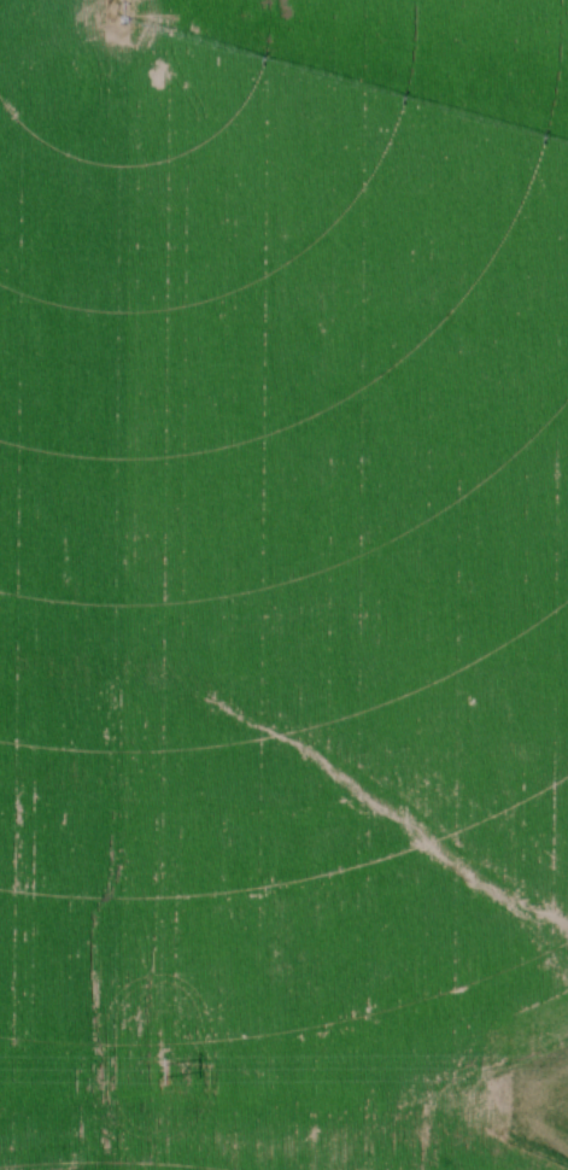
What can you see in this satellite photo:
power tower: (156, 1074)

